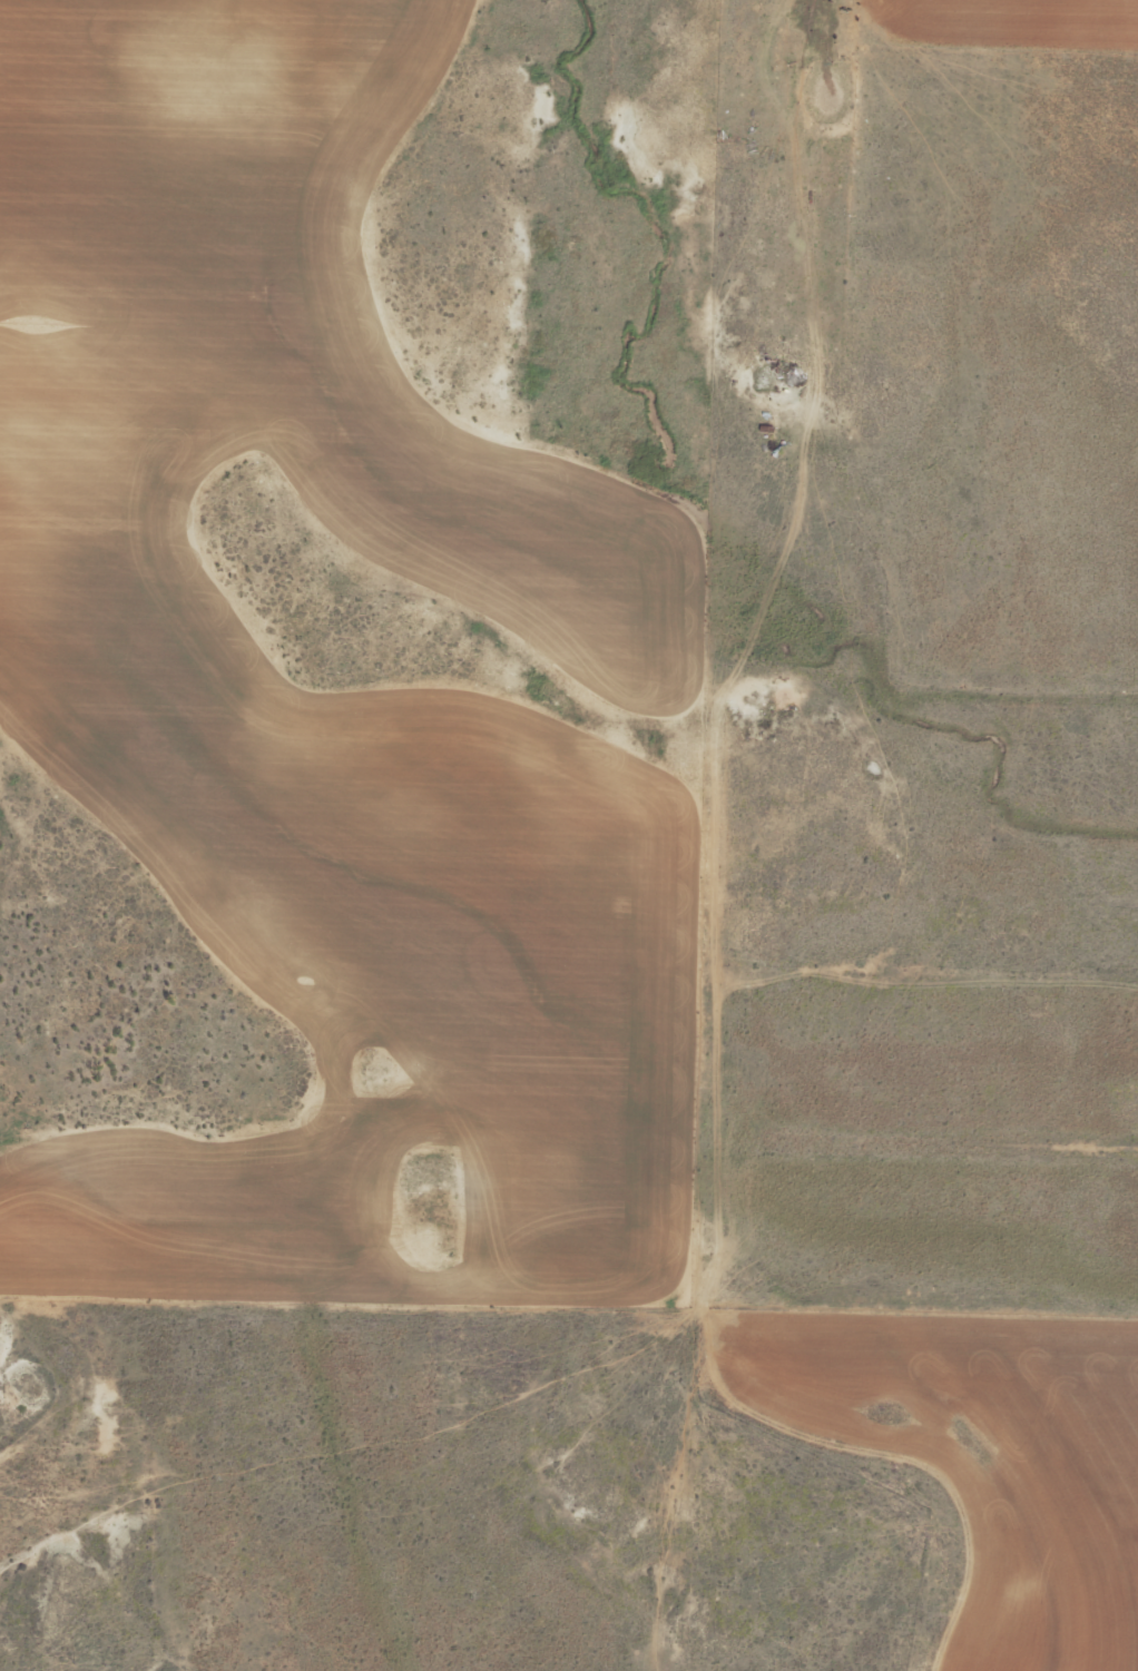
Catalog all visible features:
road: (748, 643)
road: (637, 1534)

